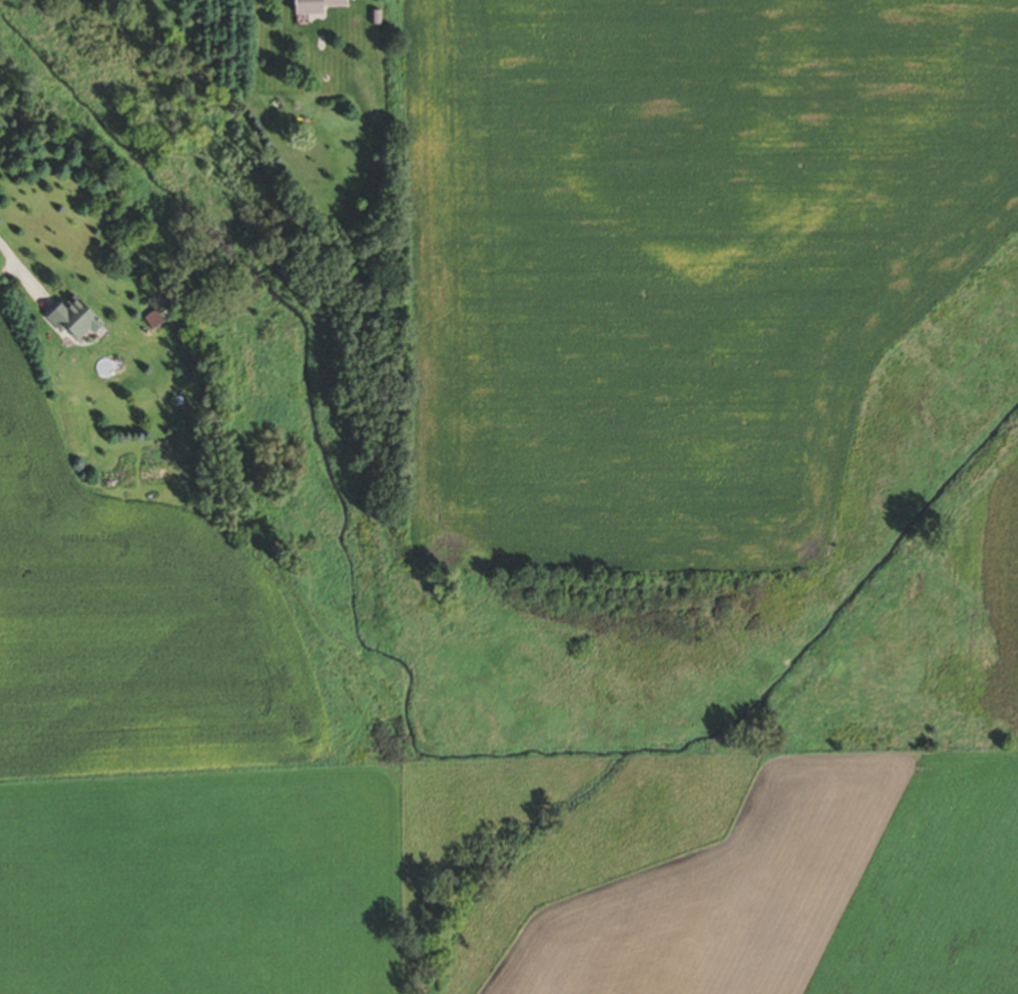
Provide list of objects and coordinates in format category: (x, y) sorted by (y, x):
building: (311, 6)
road: (22, 275)
building: (70, 320)

